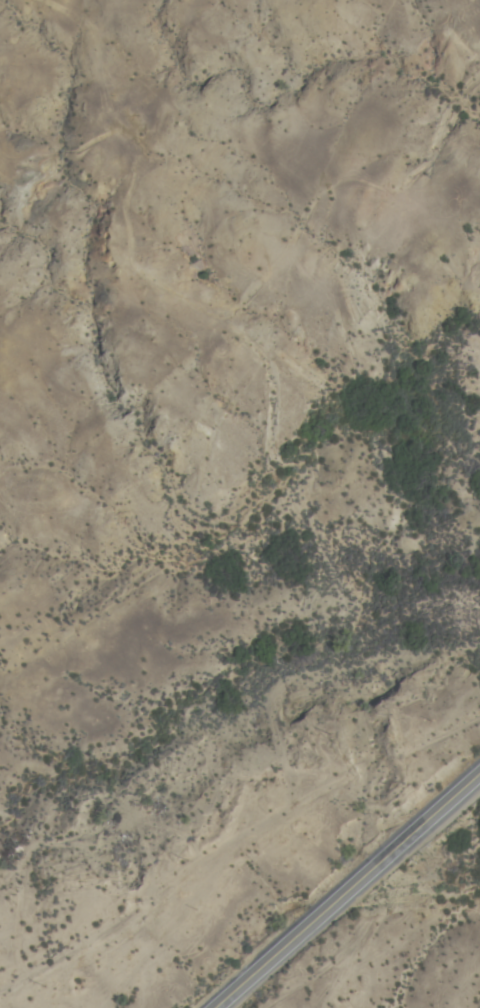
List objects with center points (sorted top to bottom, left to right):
road: (350, 892)

